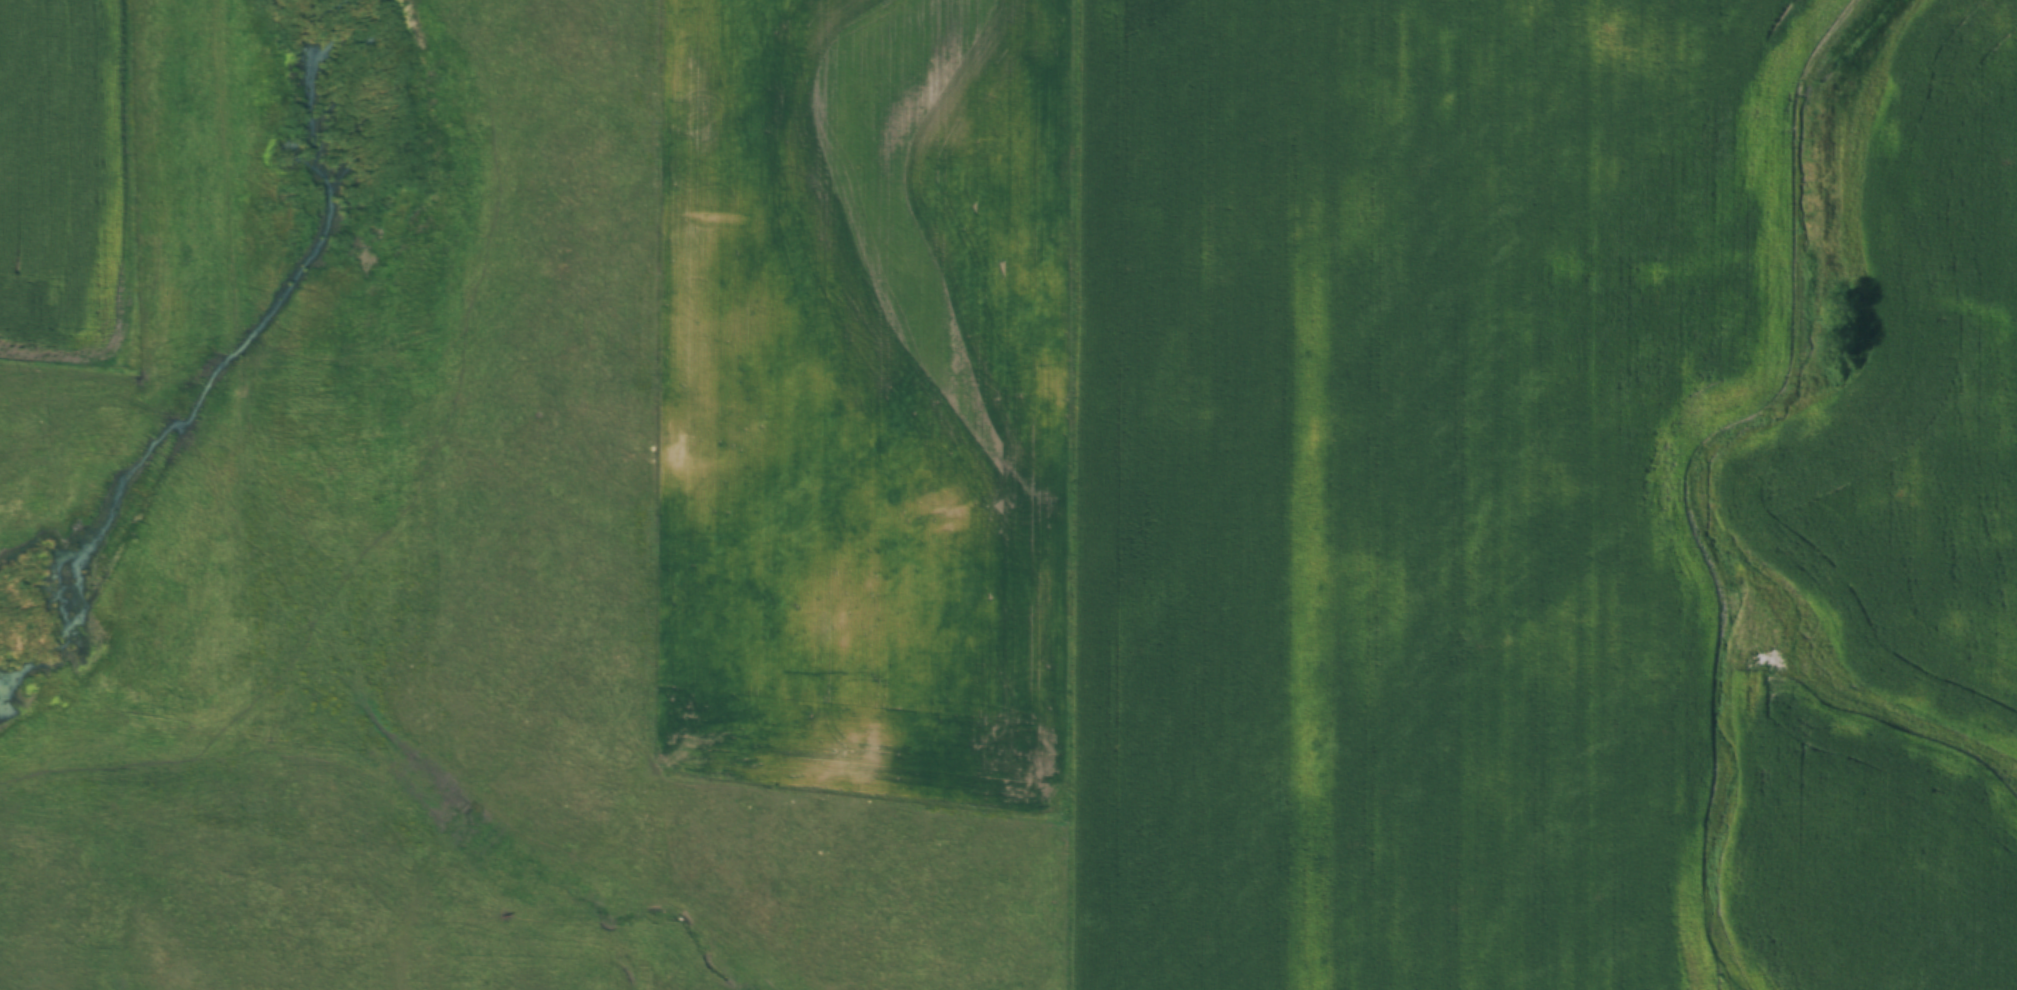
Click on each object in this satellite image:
crop: (868, 399)

